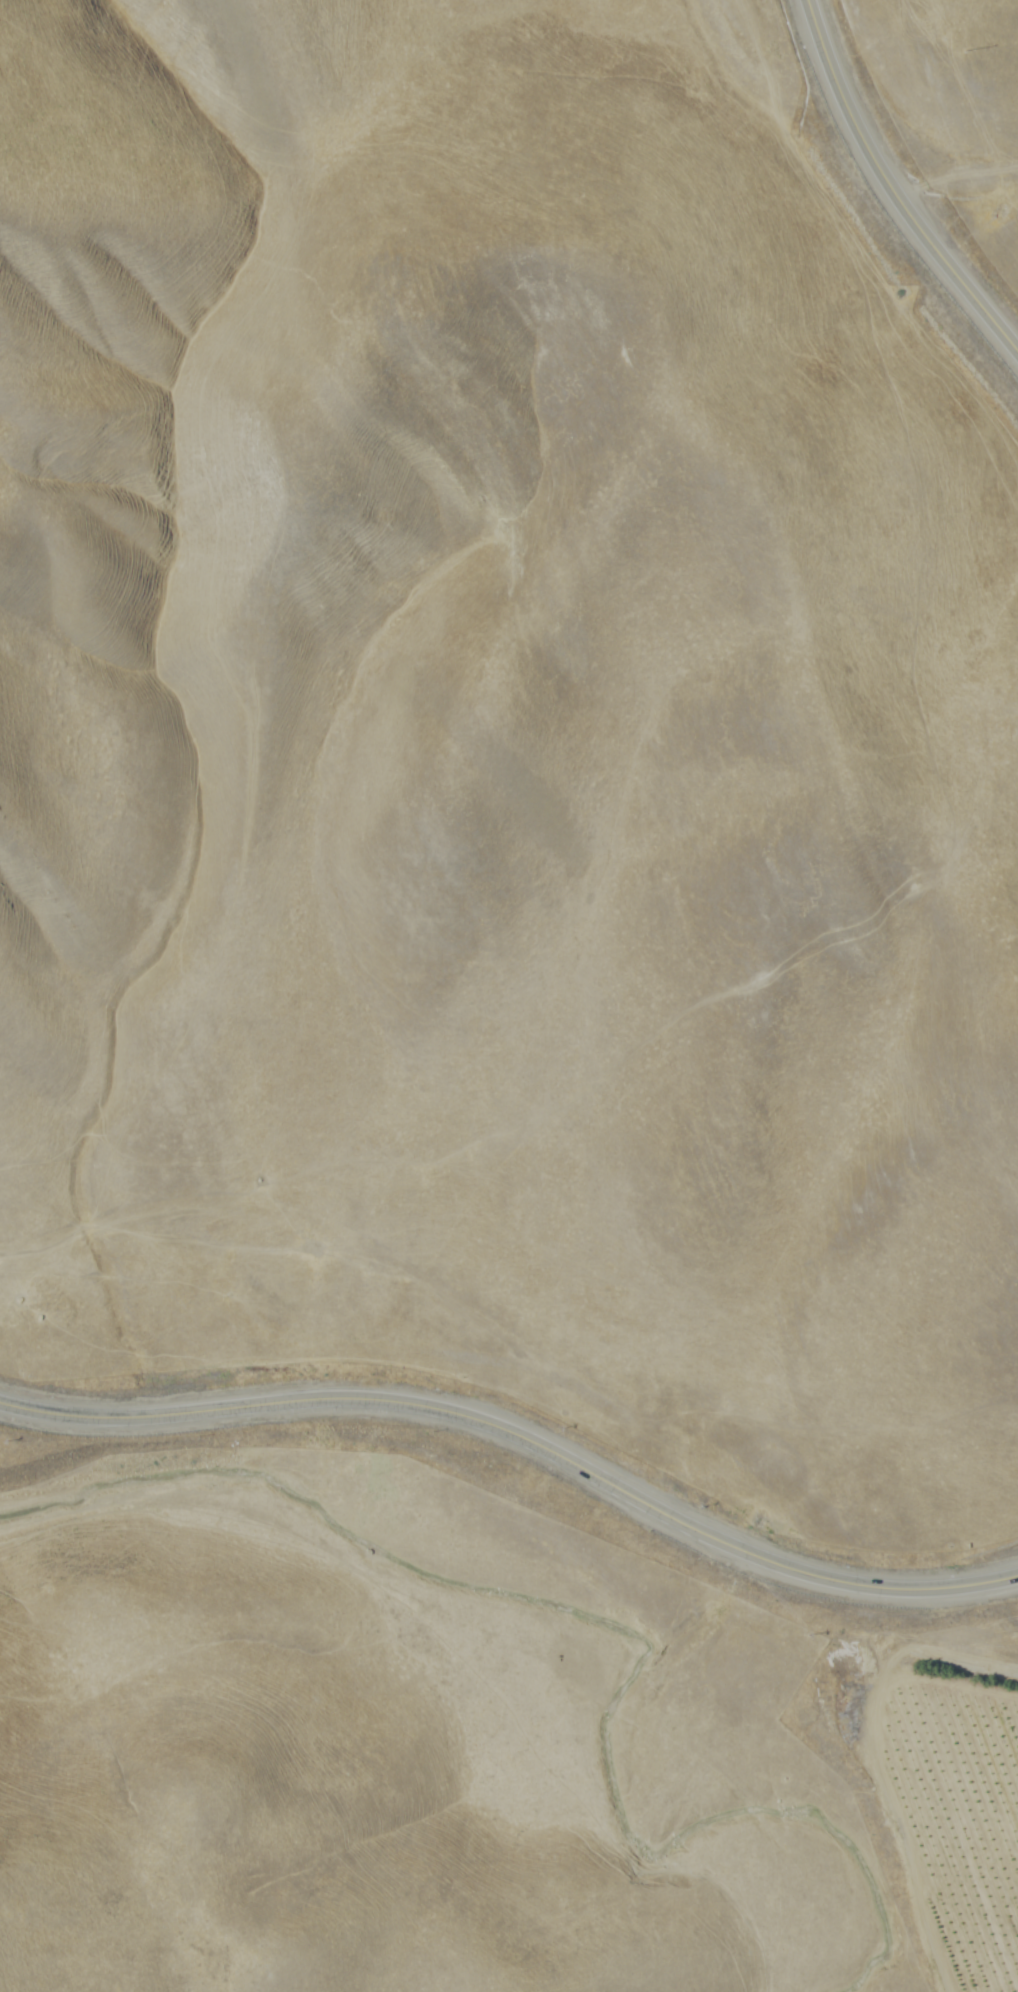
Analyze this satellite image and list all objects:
road: (959, 187)
road: (891, 188)
road: (527, 1418)
road: (948, 1691)
road: (880, 1769)

